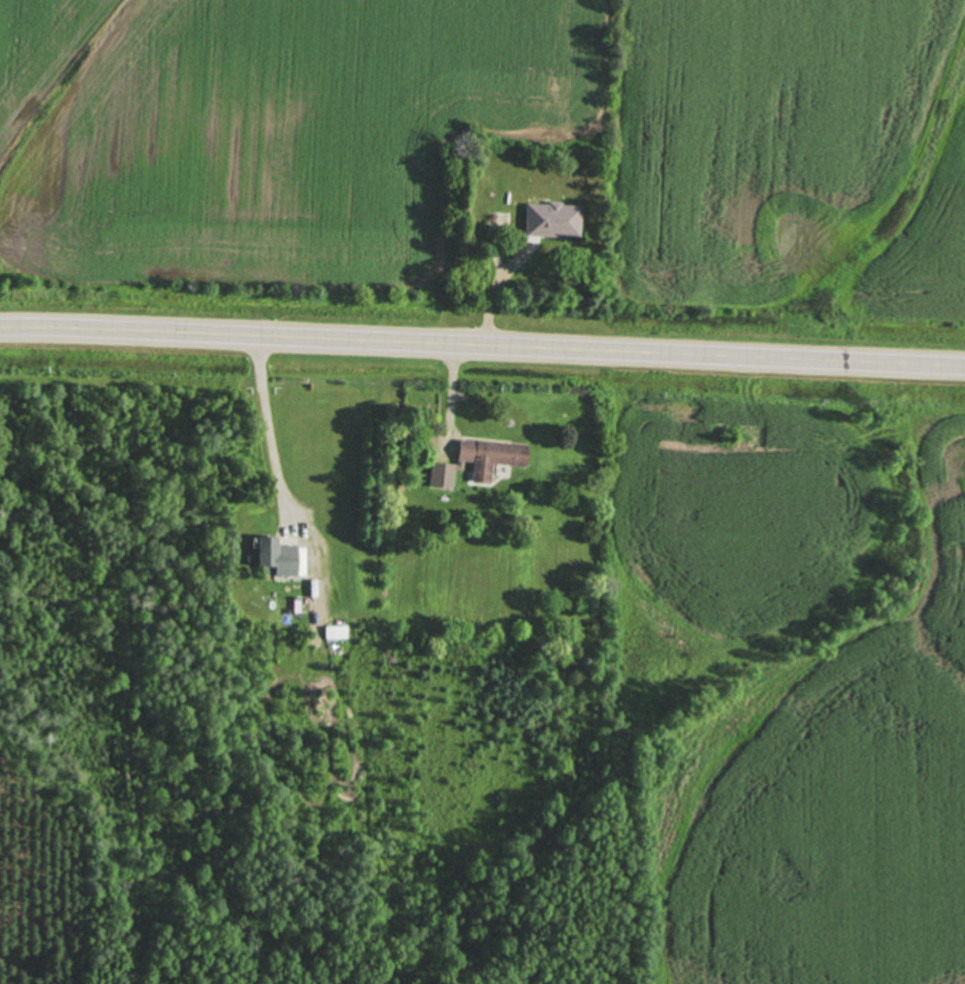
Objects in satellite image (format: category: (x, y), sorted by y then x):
building: (552, 220)
road: (482, 345)
building: (478, 459)
building: (281, 557)
building: (297, 606)
building: (336, 631)

